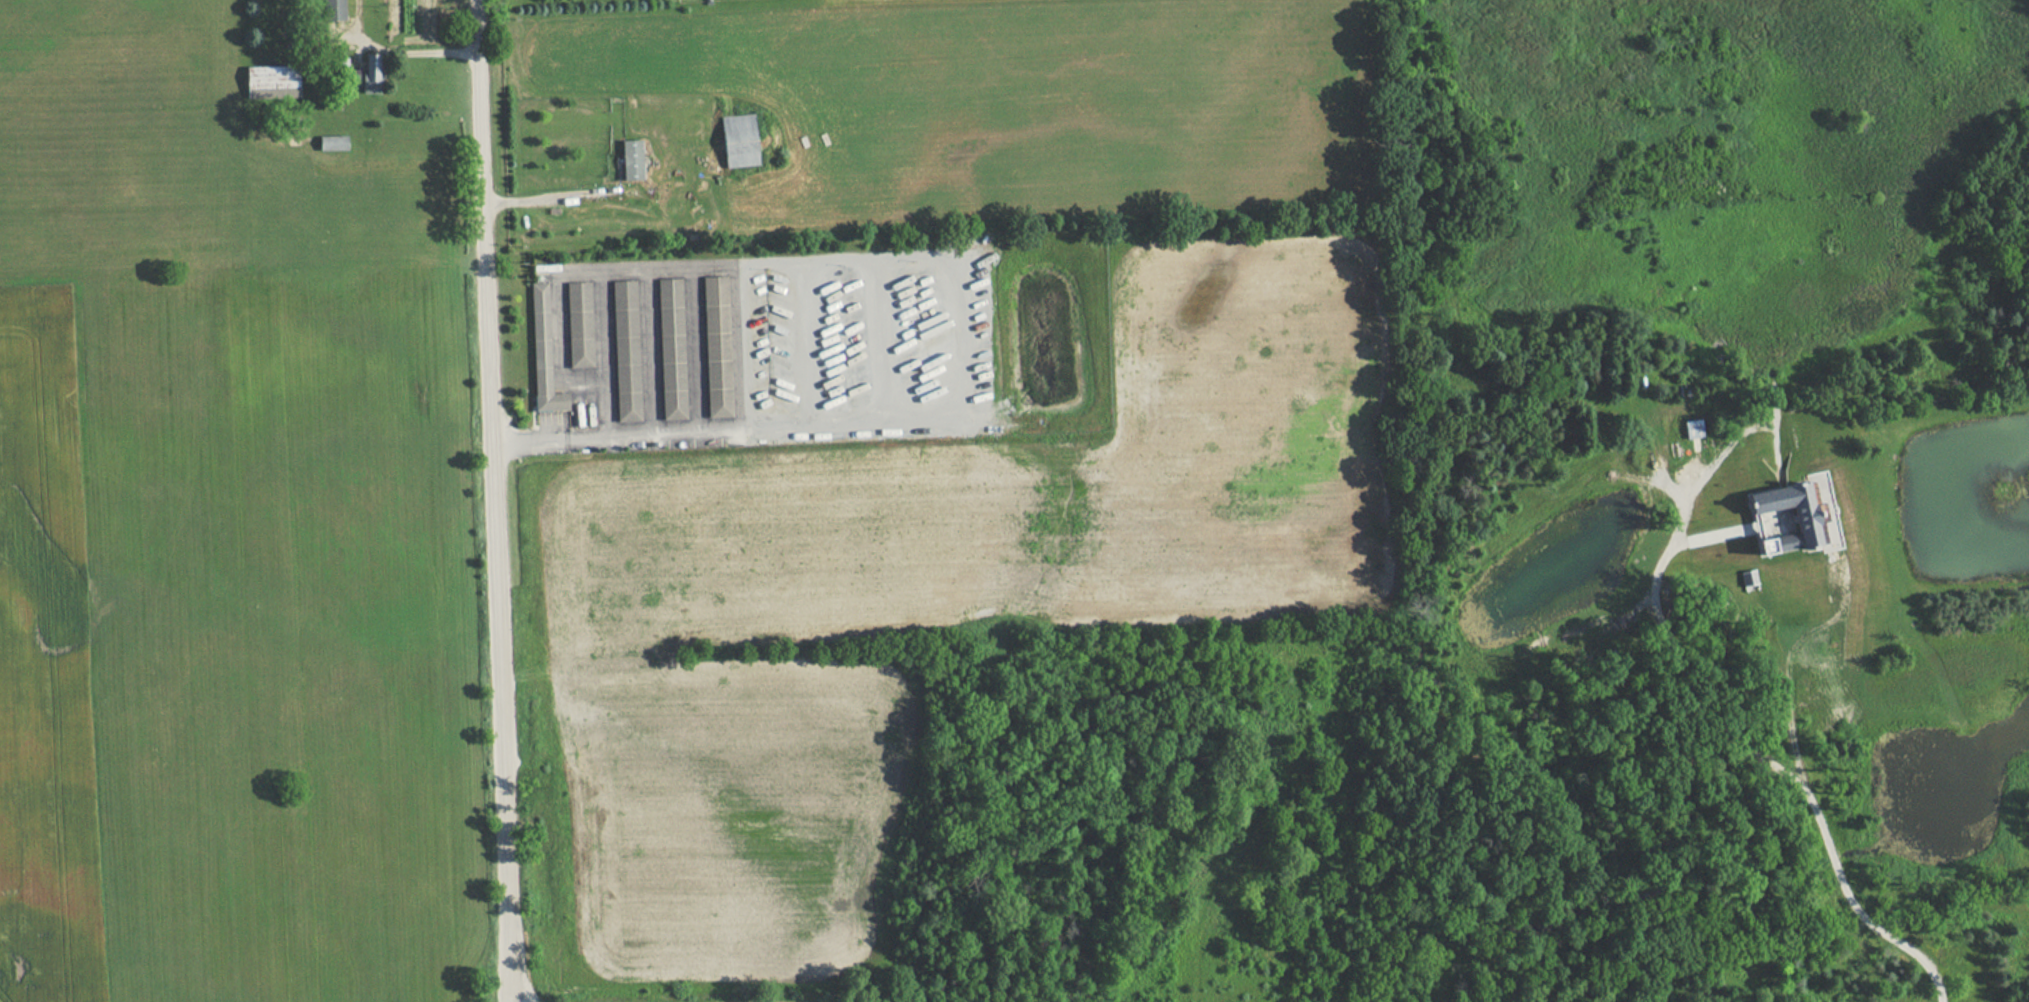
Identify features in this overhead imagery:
building: (332, 9)
building: (373, 73)
building: (273, 81)
building: (742, 141)
building: (335, 143)
building: (634, 159)
road: (545, 198)
building: (578, 316)
building: (716, 337)
building: (670, 339)
building: (541, 341)
building: (624, 342)
road: (494, 501)
building: (1780, 512)
crop: (957, 582)
crop: (47, 662)
road: (1813, 808)

